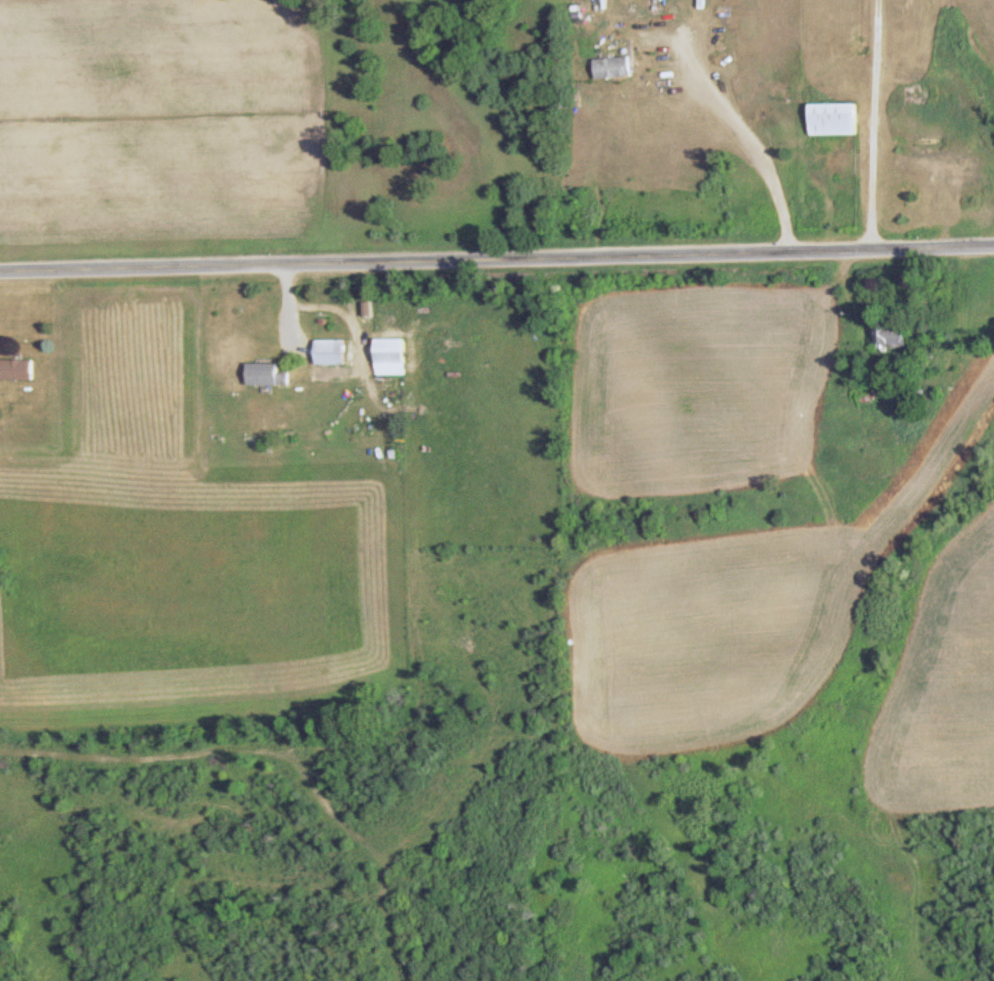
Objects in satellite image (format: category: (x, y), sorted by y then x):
building: (613, 68)
building: (836, 119)
road: (497, 256)
building: (893, 335)
building: (330, 352)
building: (392, 356)
building: (16, 369)
building: (268, 375)

